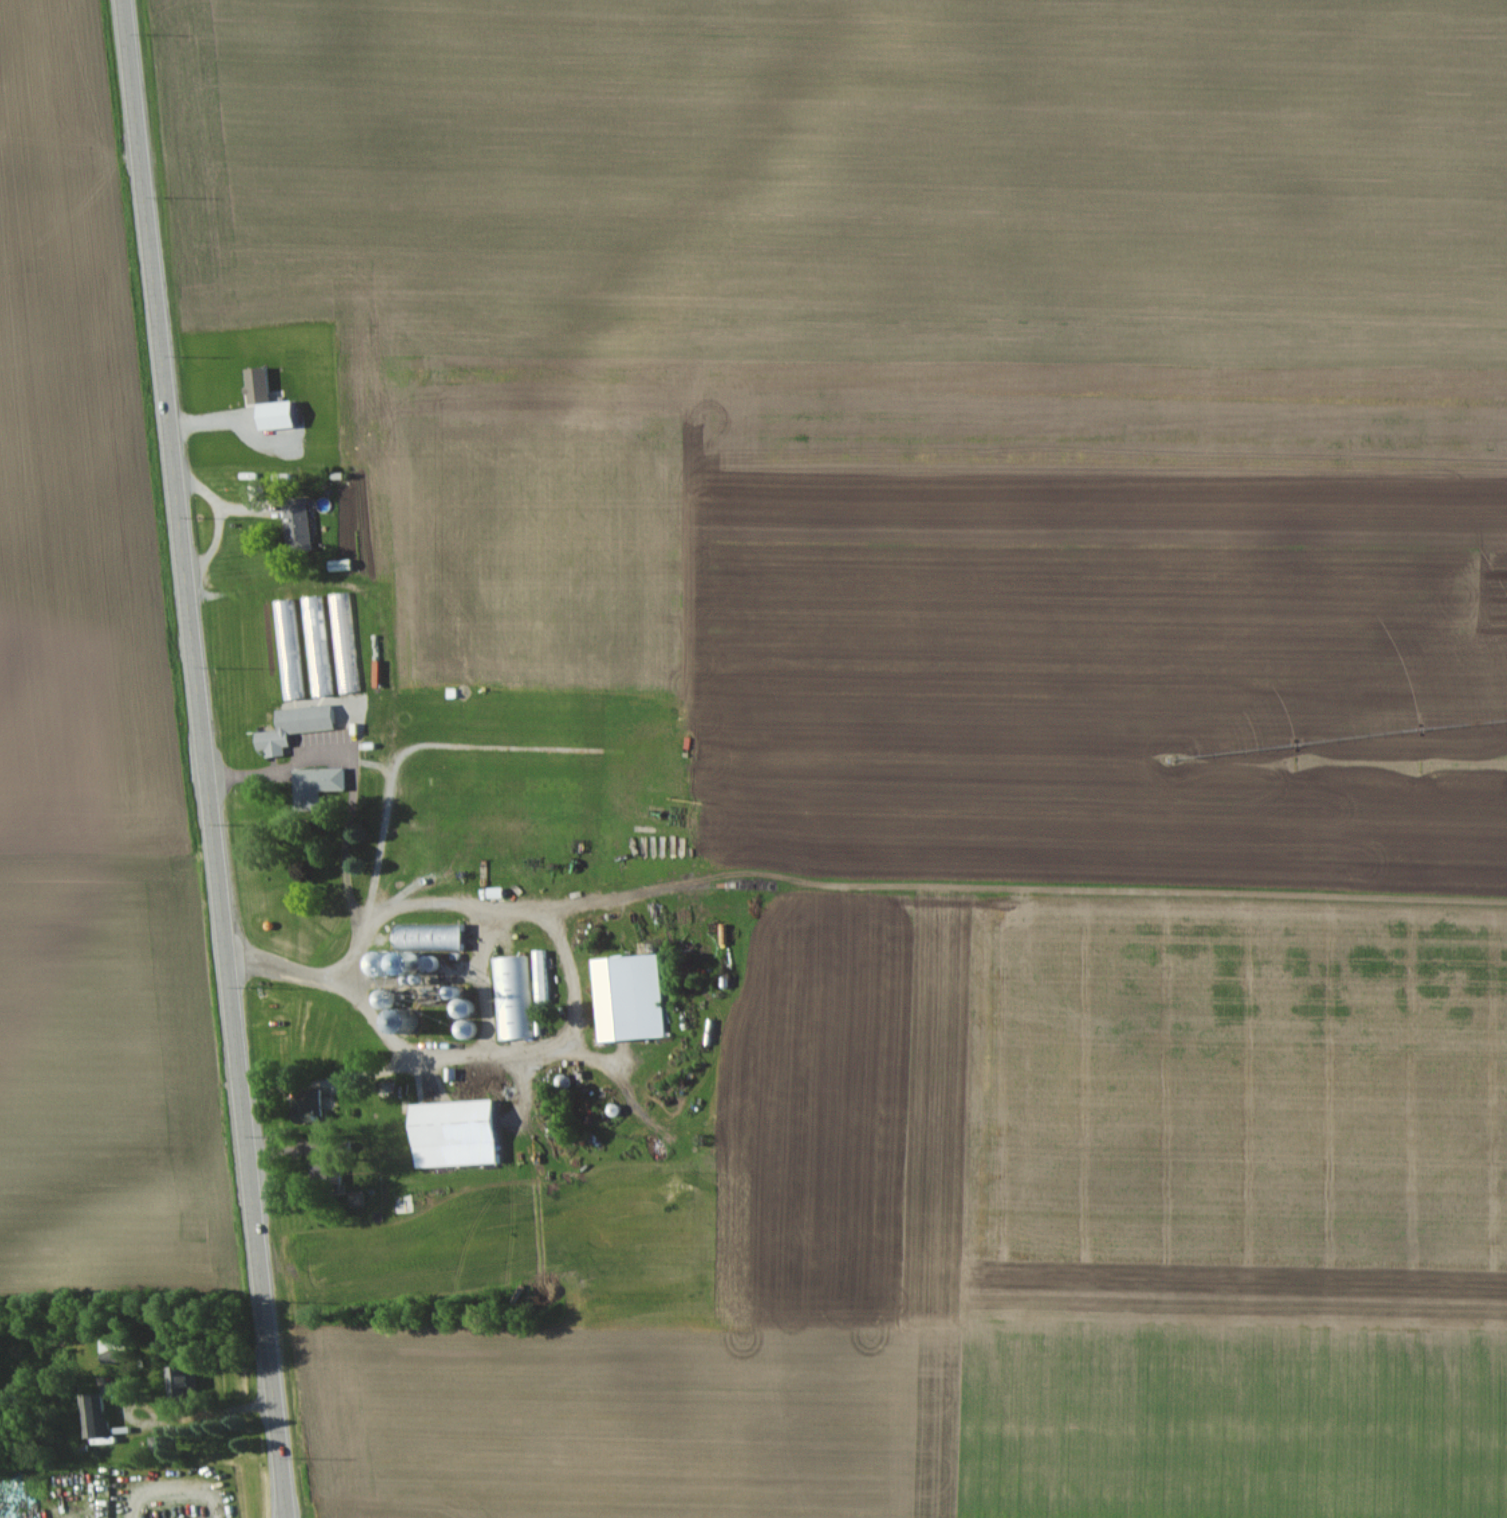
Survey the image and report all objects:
building: (302, 524)
building: (341, 617)
building: (318, 646)
building: (289, 649)
building: (298, 727)
road: (205, 759)
road: (374, 766)
building: (318, 785)
building: (432, 935)
road: (567, 953)
building: (513, 997)
building: (632, 997)
road: (380, 1020)
building: (311, 1106)
building: (460, 1133)
building: (184, 1382)
road: (205, 1415)
building: (99, 1416)

